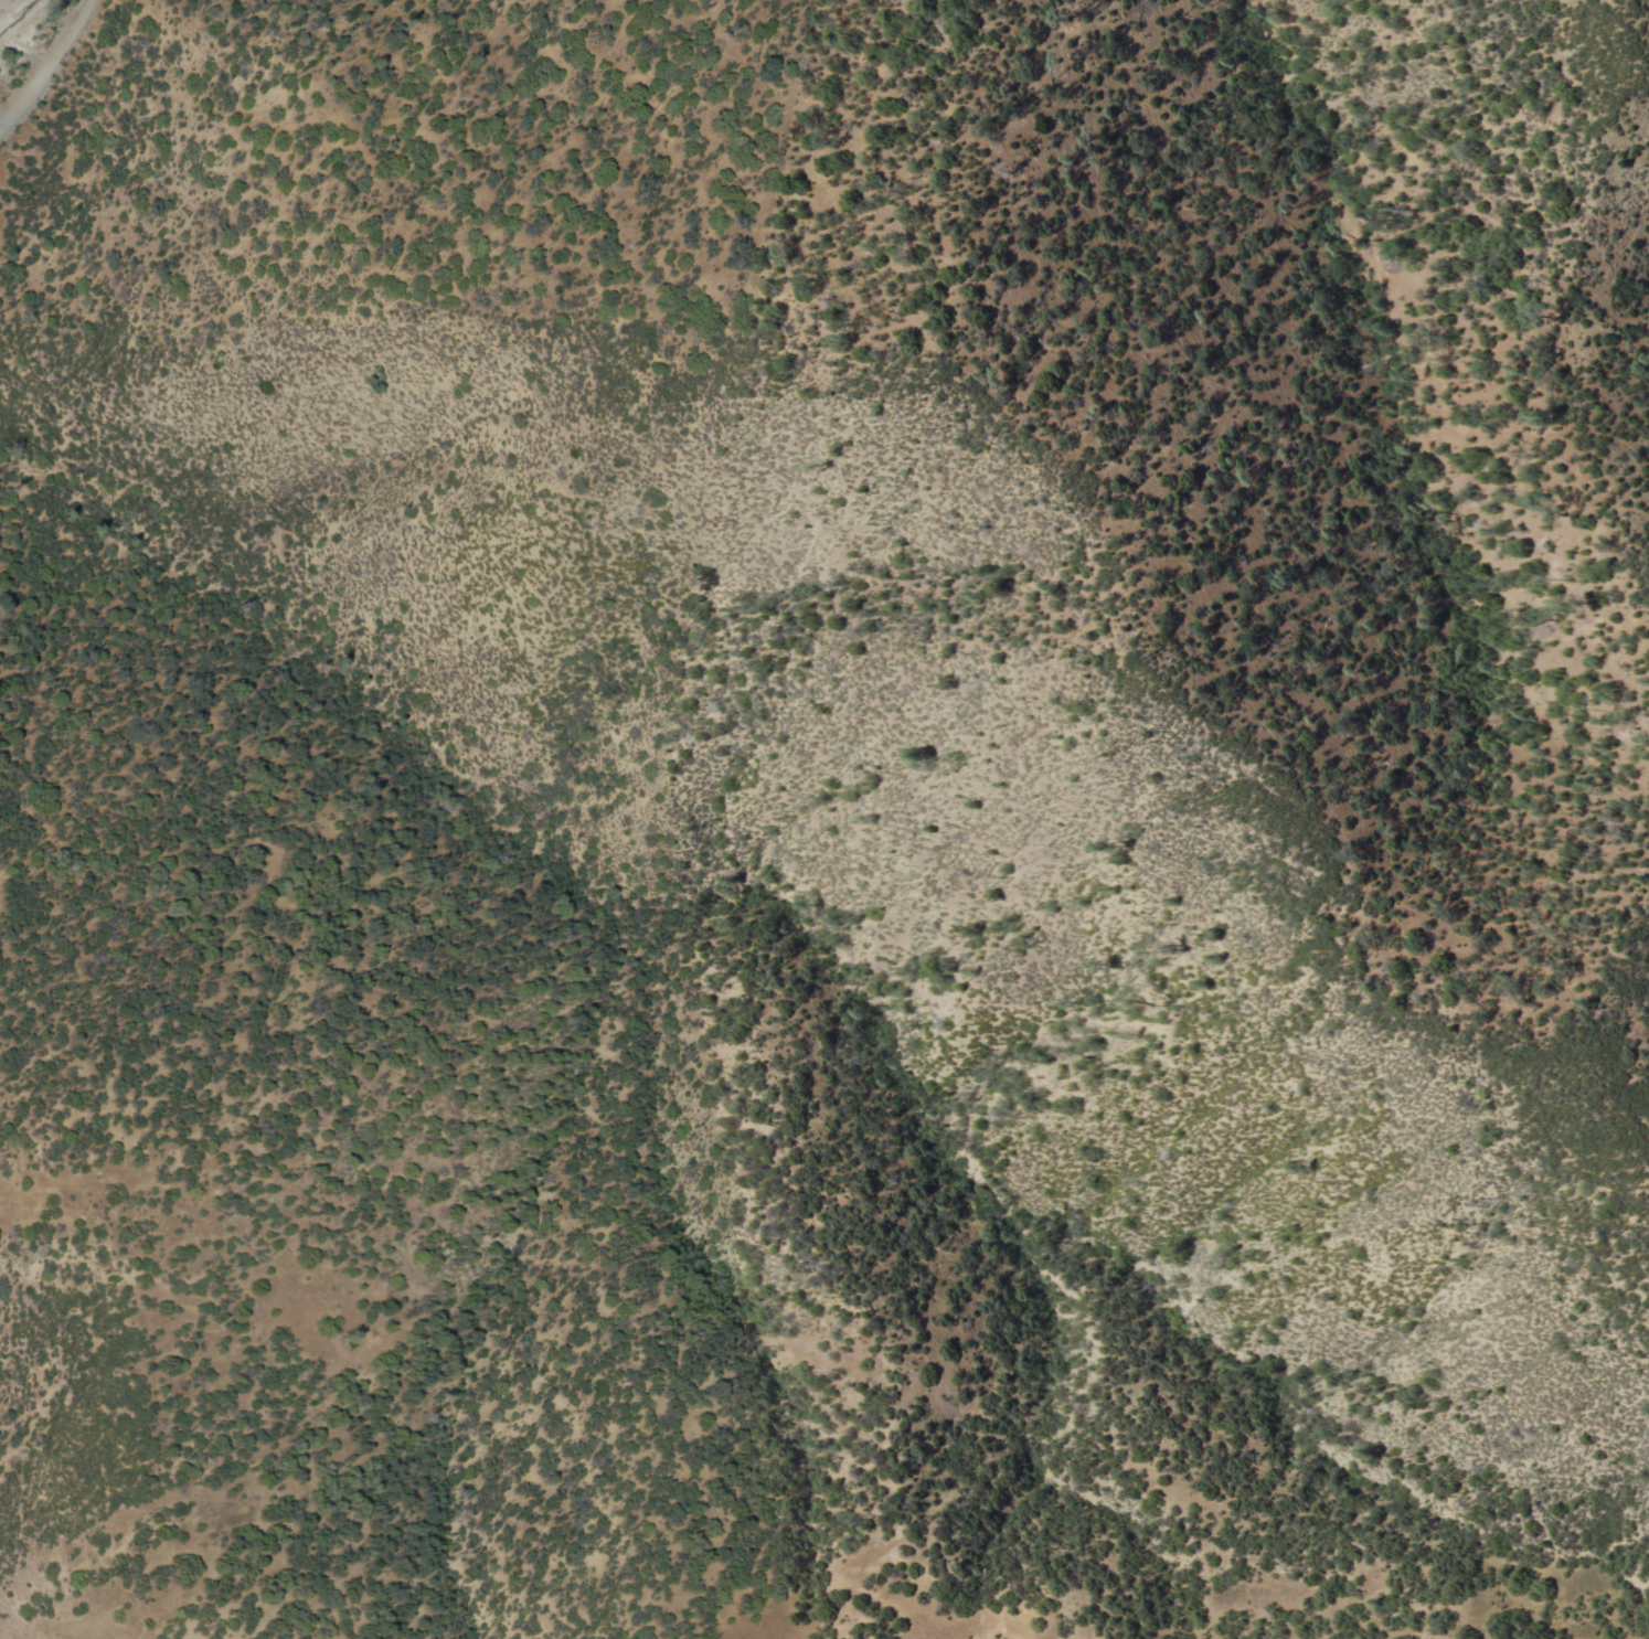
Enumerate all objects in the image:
road: (40, 68)

